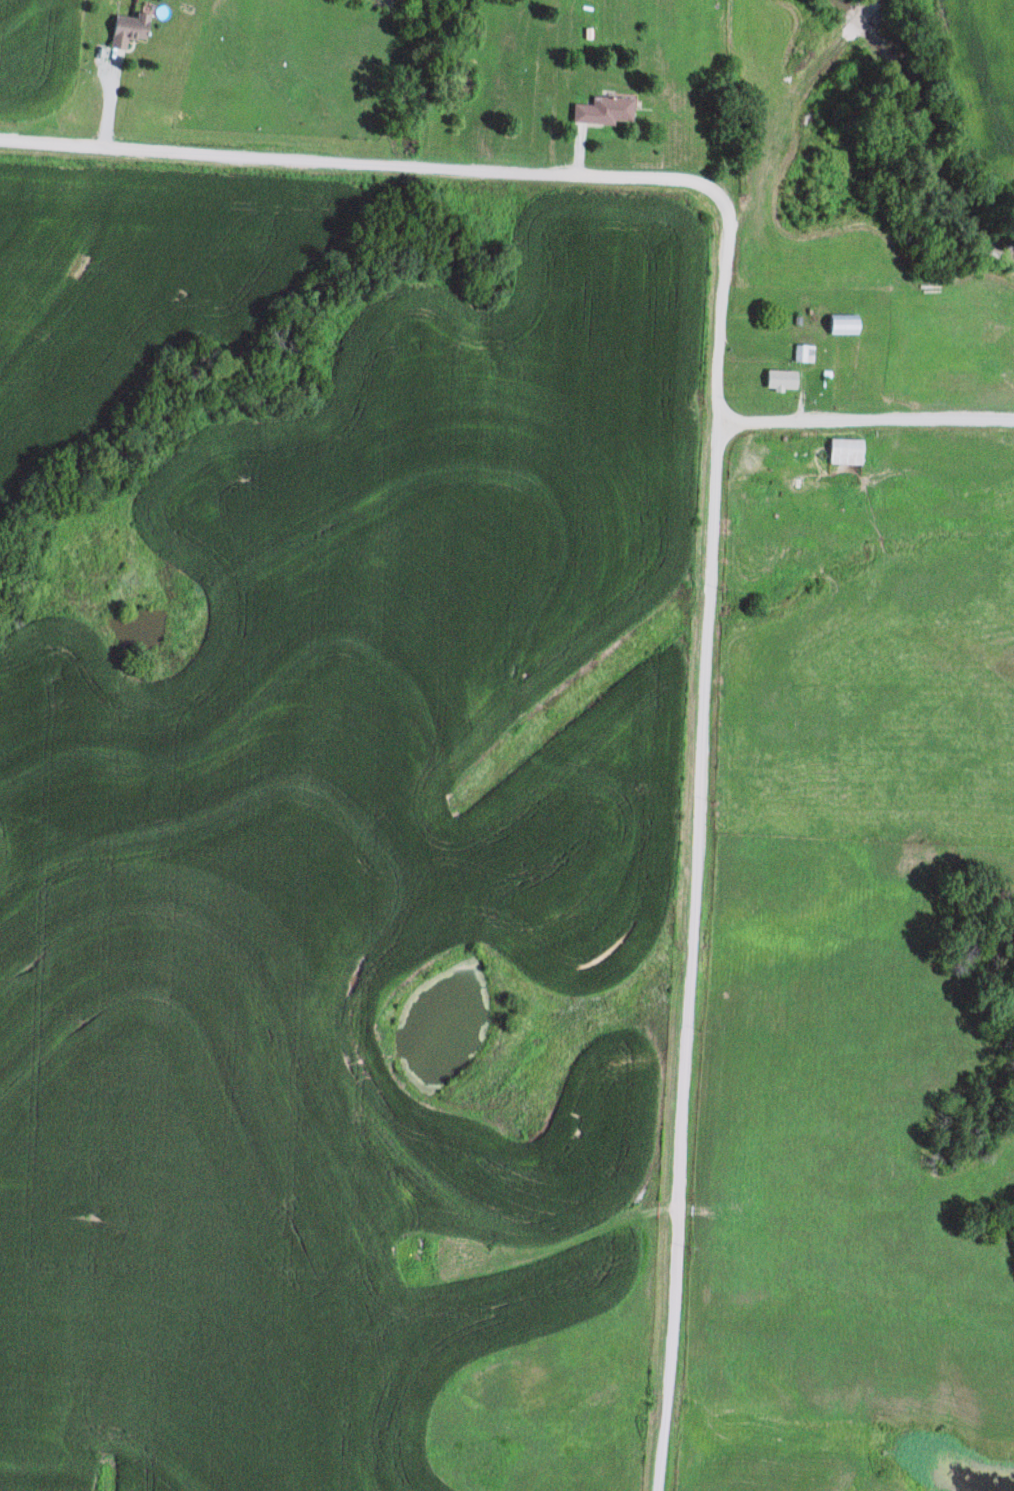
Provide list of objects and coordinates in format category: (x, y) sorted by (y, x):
building: (125, 31)
building: (600, 112)
road: (475, 166)
building: (839, 325)
building: (801, 354)
building: (777, 380)
building: (849, 380)
road: (866, 412)
building: (842, 452)
road: (693, 953)
building: (343, 1156)
road: (492, 1267)

